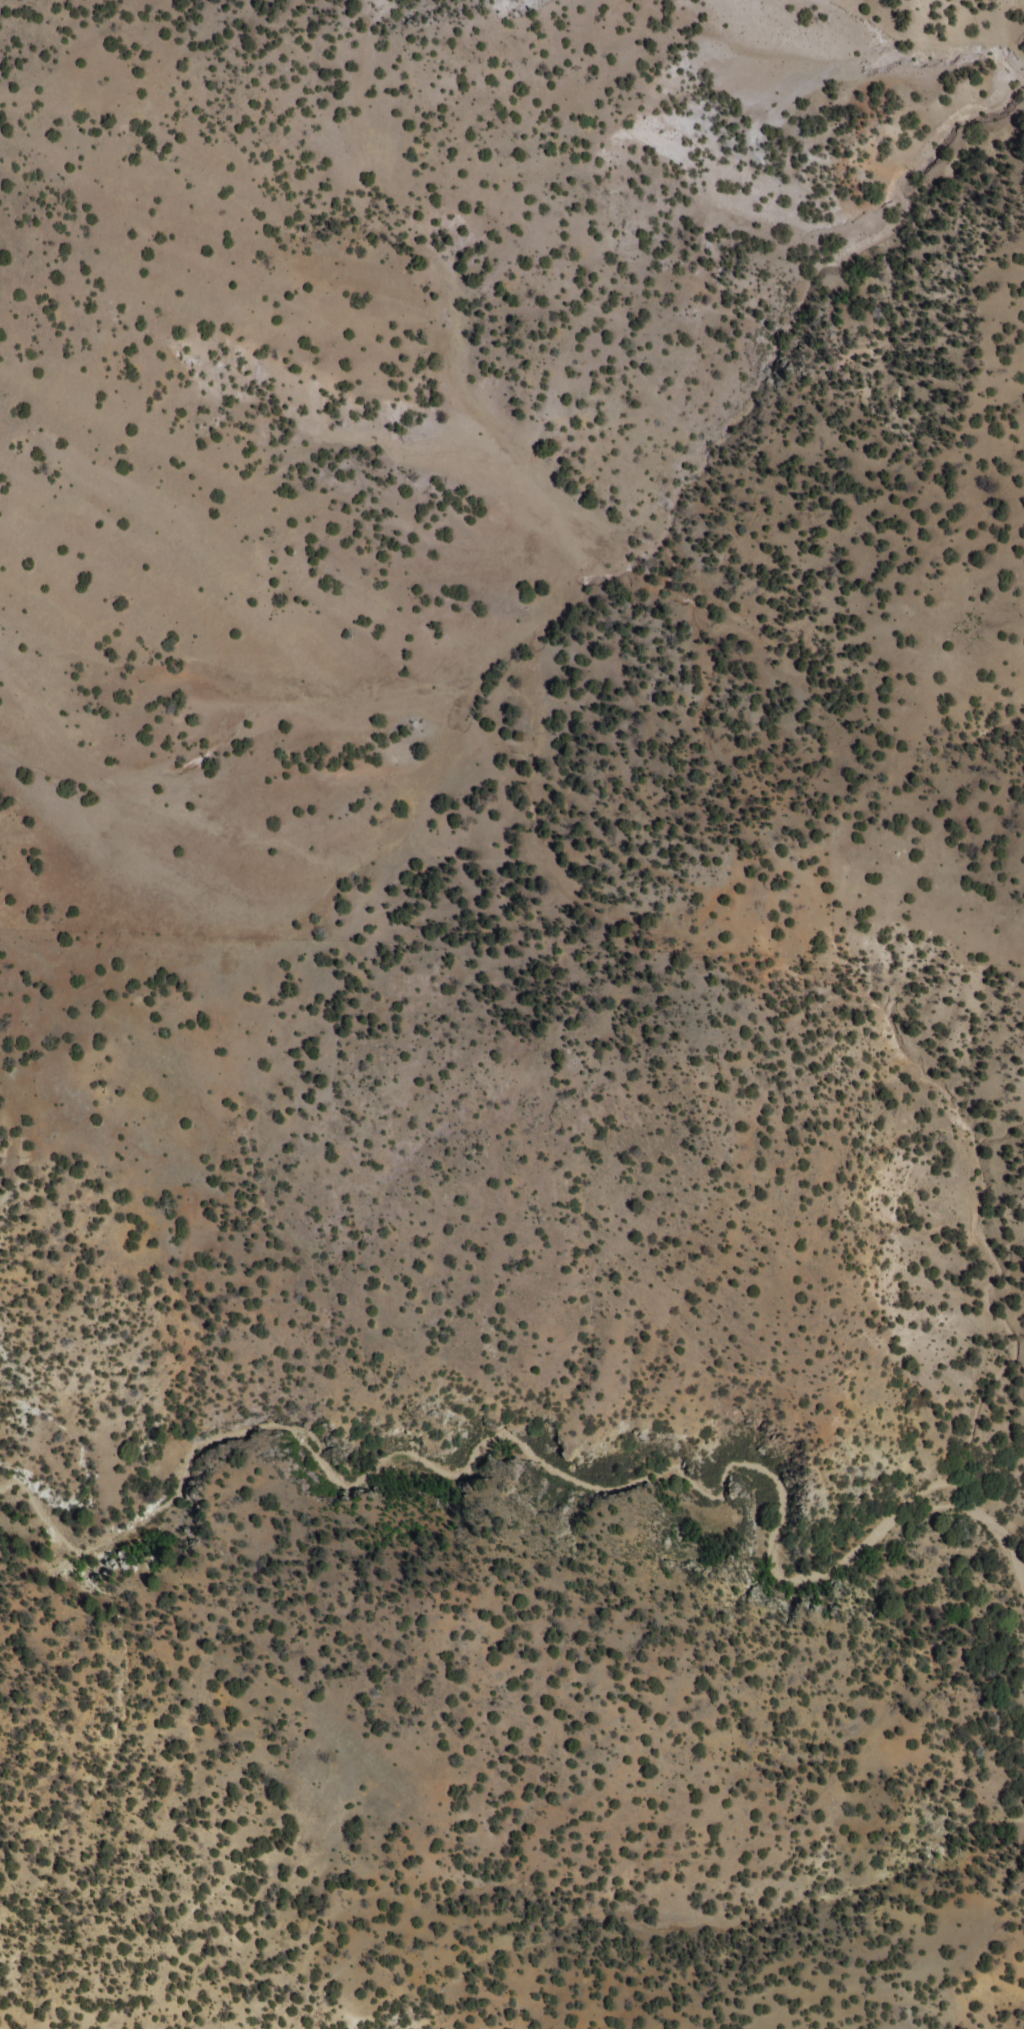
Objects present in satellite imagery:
road: (987, 627)

